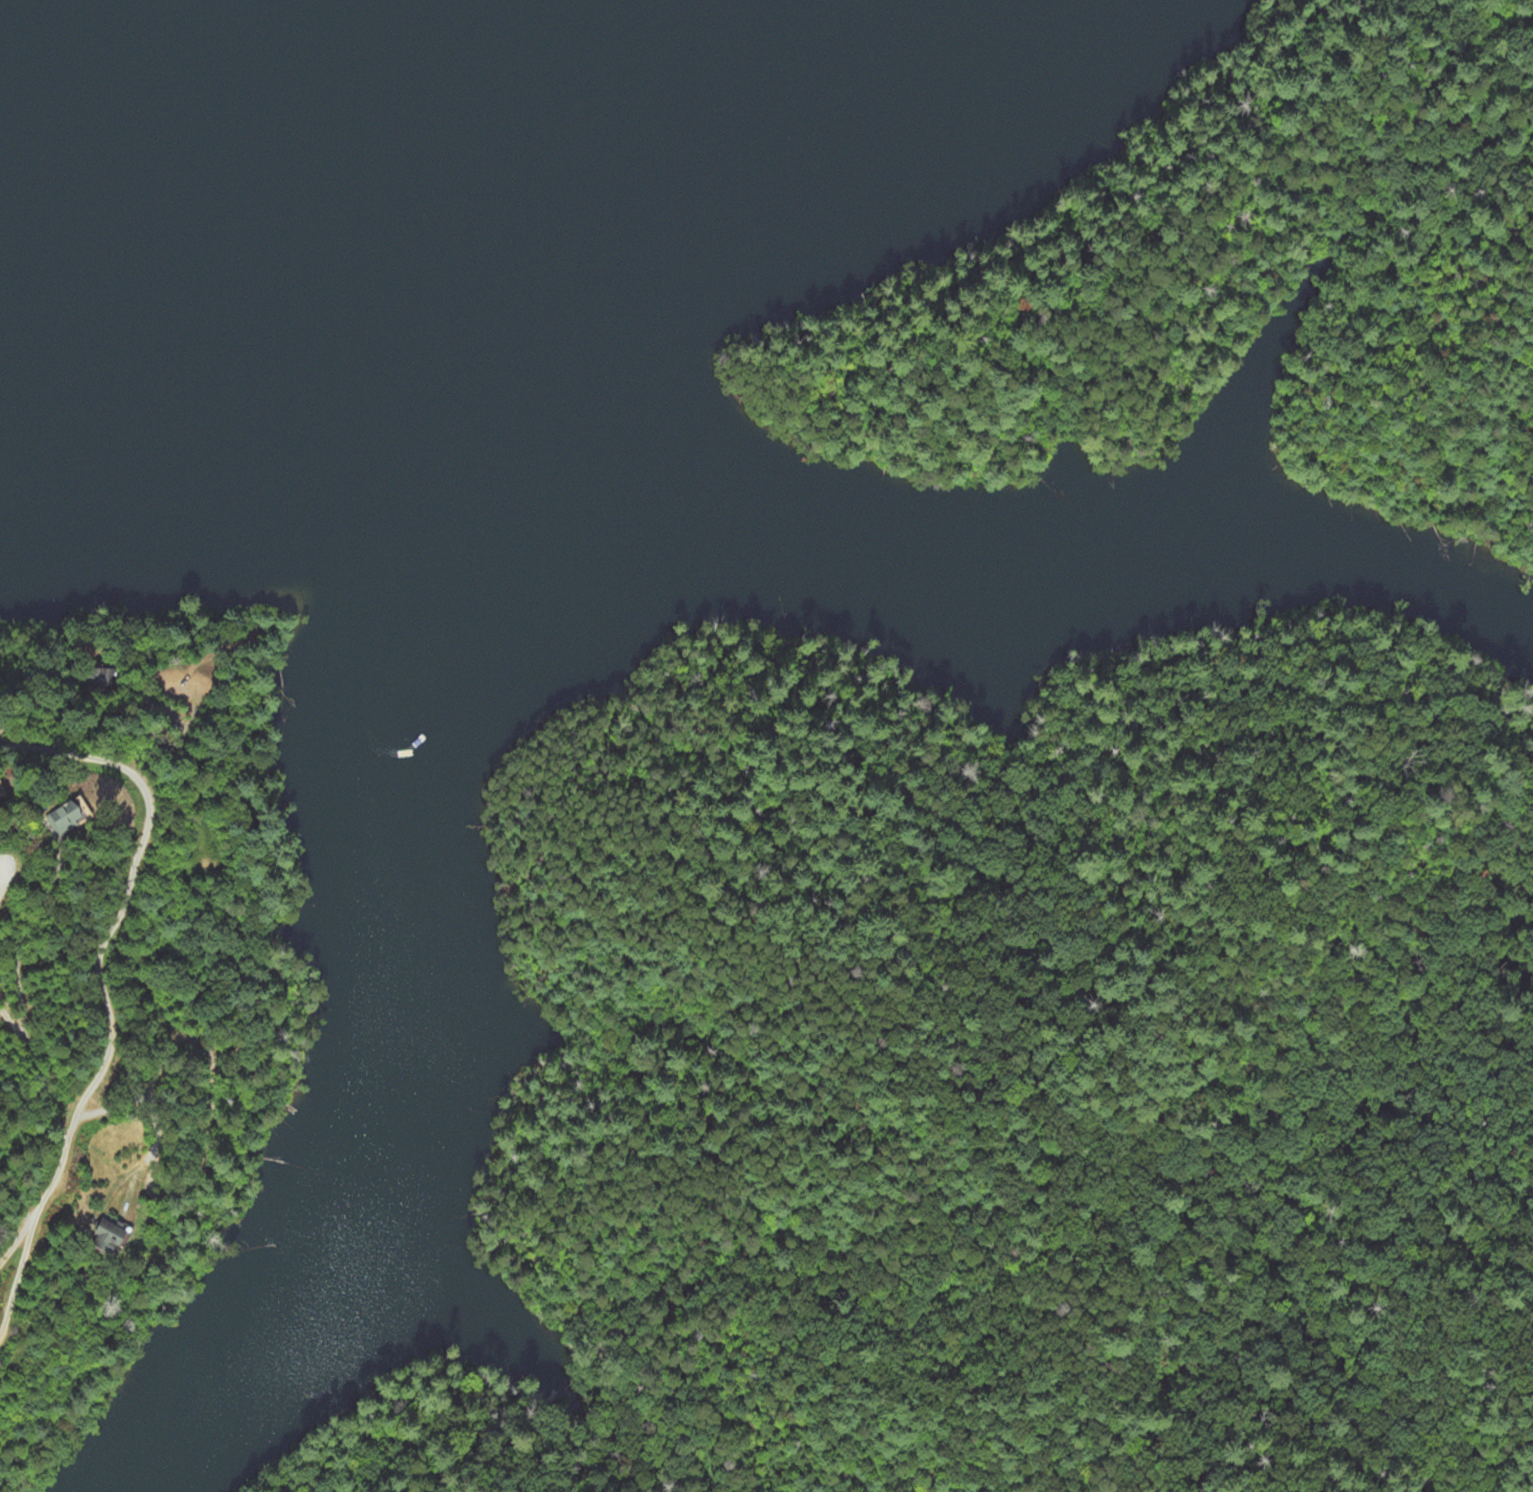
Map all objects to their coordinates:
river: (470, 244)
building: (63, 819)
road: (22, 933)
road: (102, 990)
road: (41, 1085)
building: (106, 1237)
road: (15, 1242)

